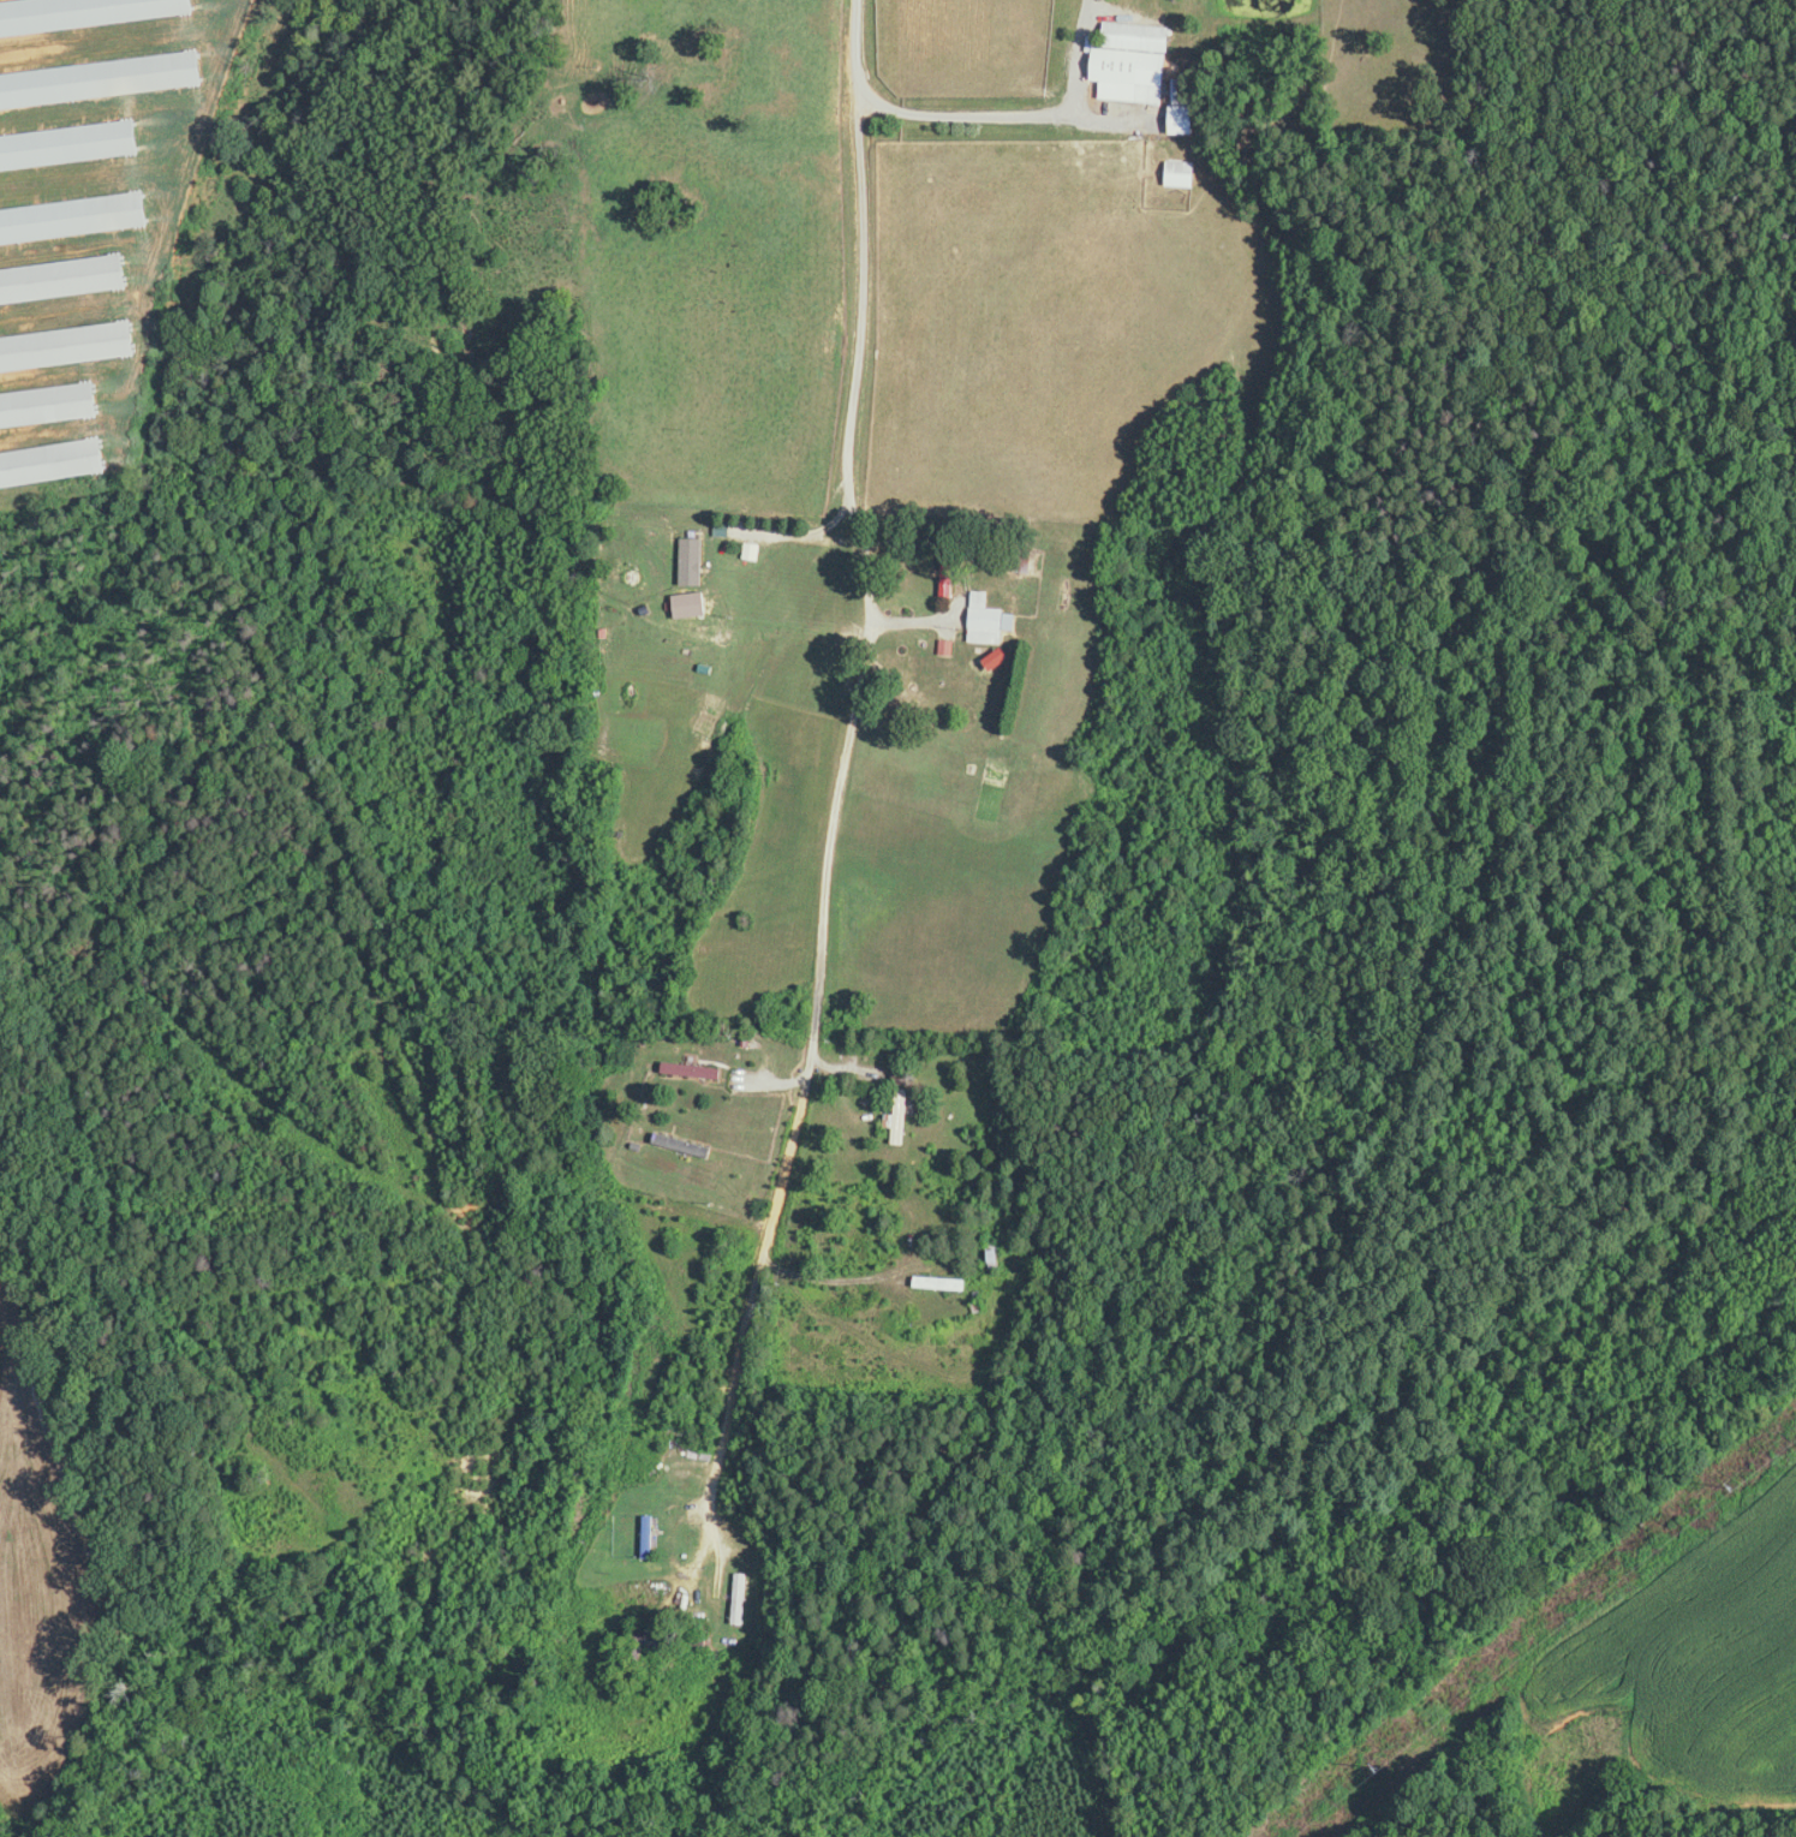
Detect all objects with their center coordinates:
building: (88, 14)
building: (1134, 62)
building: (102, 80)
road: (1018, 114)
building: (1183, 120)
building: (70, 147)
building: (1182, 174)
building: (76, 220)
road: (807, 533)
building: (1021, 561)
building: (693, 562)
building: (953, 566)
building: (990, 621)
building: (708, 626)
road: (848, 745)
building: (902, 1116)
building: (675, 1143)
building: (996, 1252)
building: (942, 1283)
building: (692, 1432)
building: (649, 1537)
building: (740, 1598)
building: (645, 1650)

